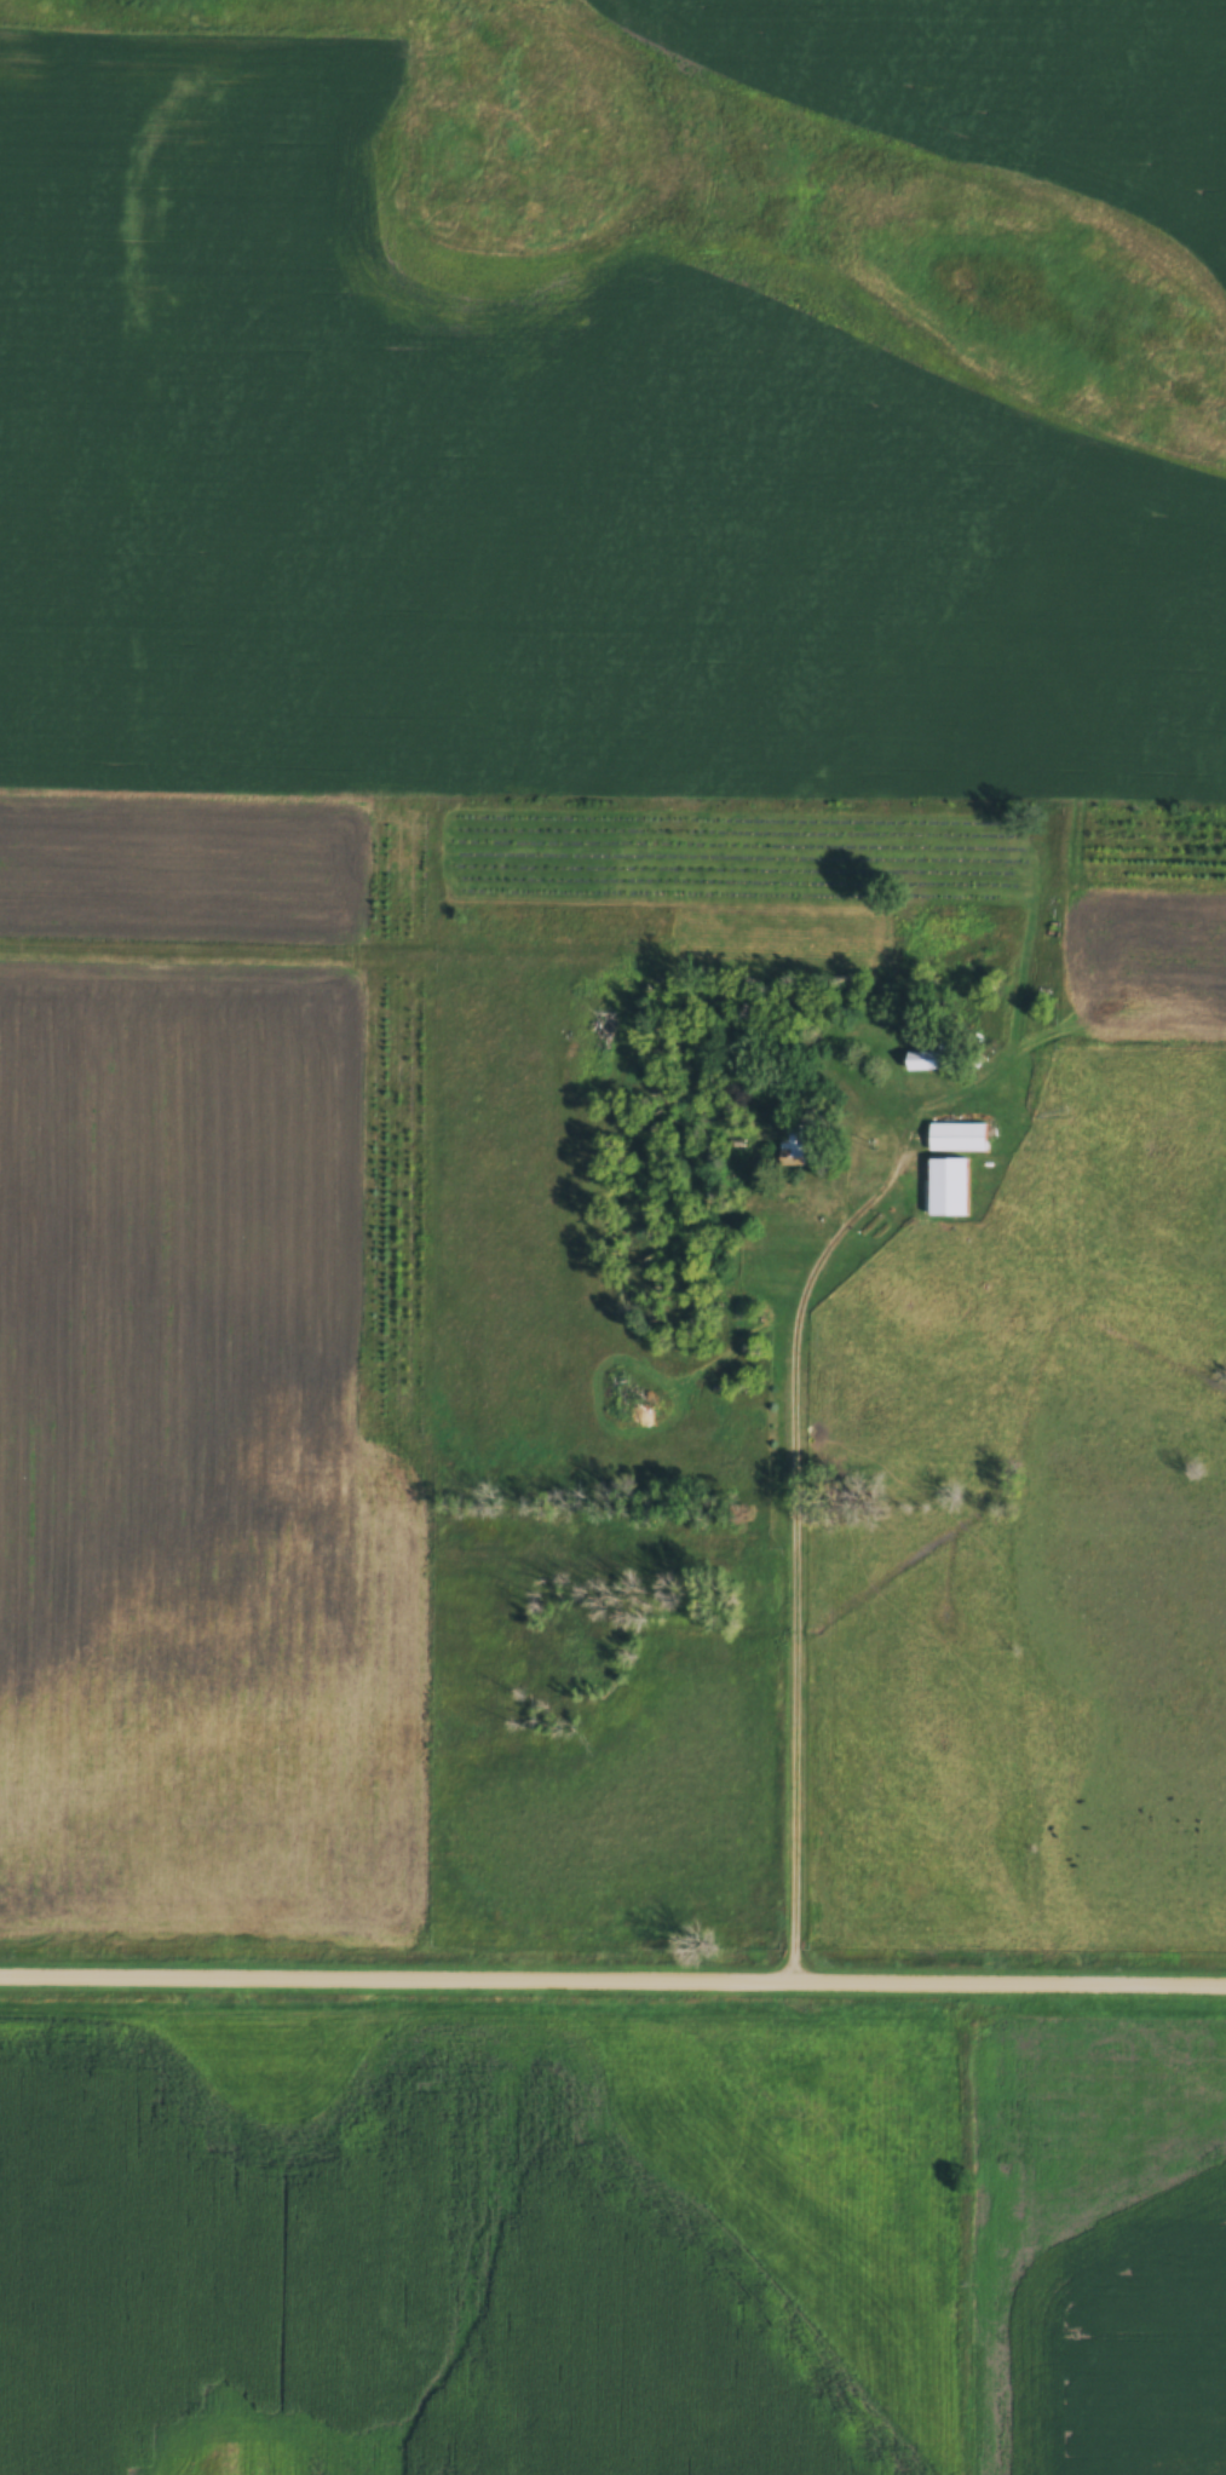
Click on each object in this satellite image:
building: (1034, 874)
building: (932, 1061)
building: (957, 1139)
building: (790, 1144)
building: (945, 1188)
road: (789, 1552)
road: (612, 1980)

